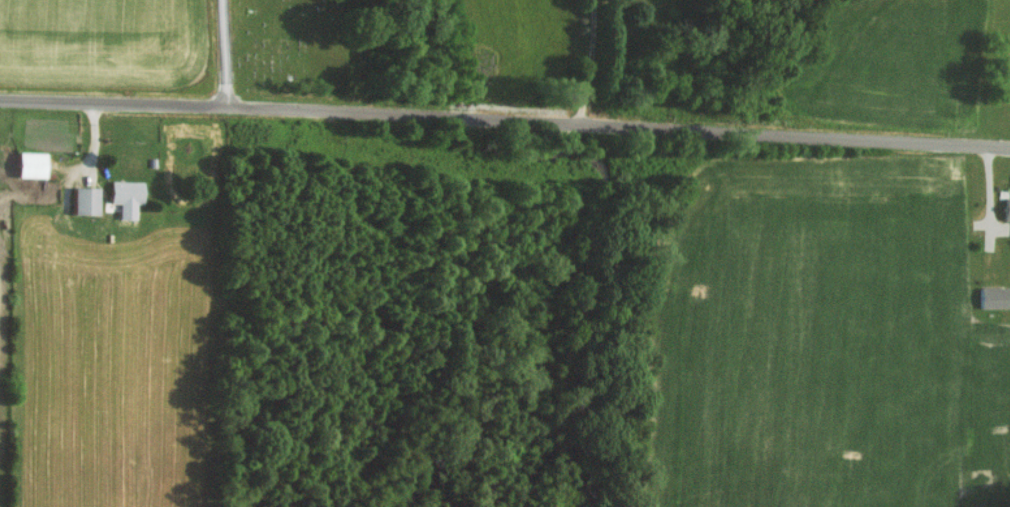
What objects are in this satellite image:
road: (226, 51)
road: (593, 60)
road: (505, 113)
building: (32, 164)
building: (127, 196)
building: (86, 200)
building: (1004, 209)
building: (990, 297)

